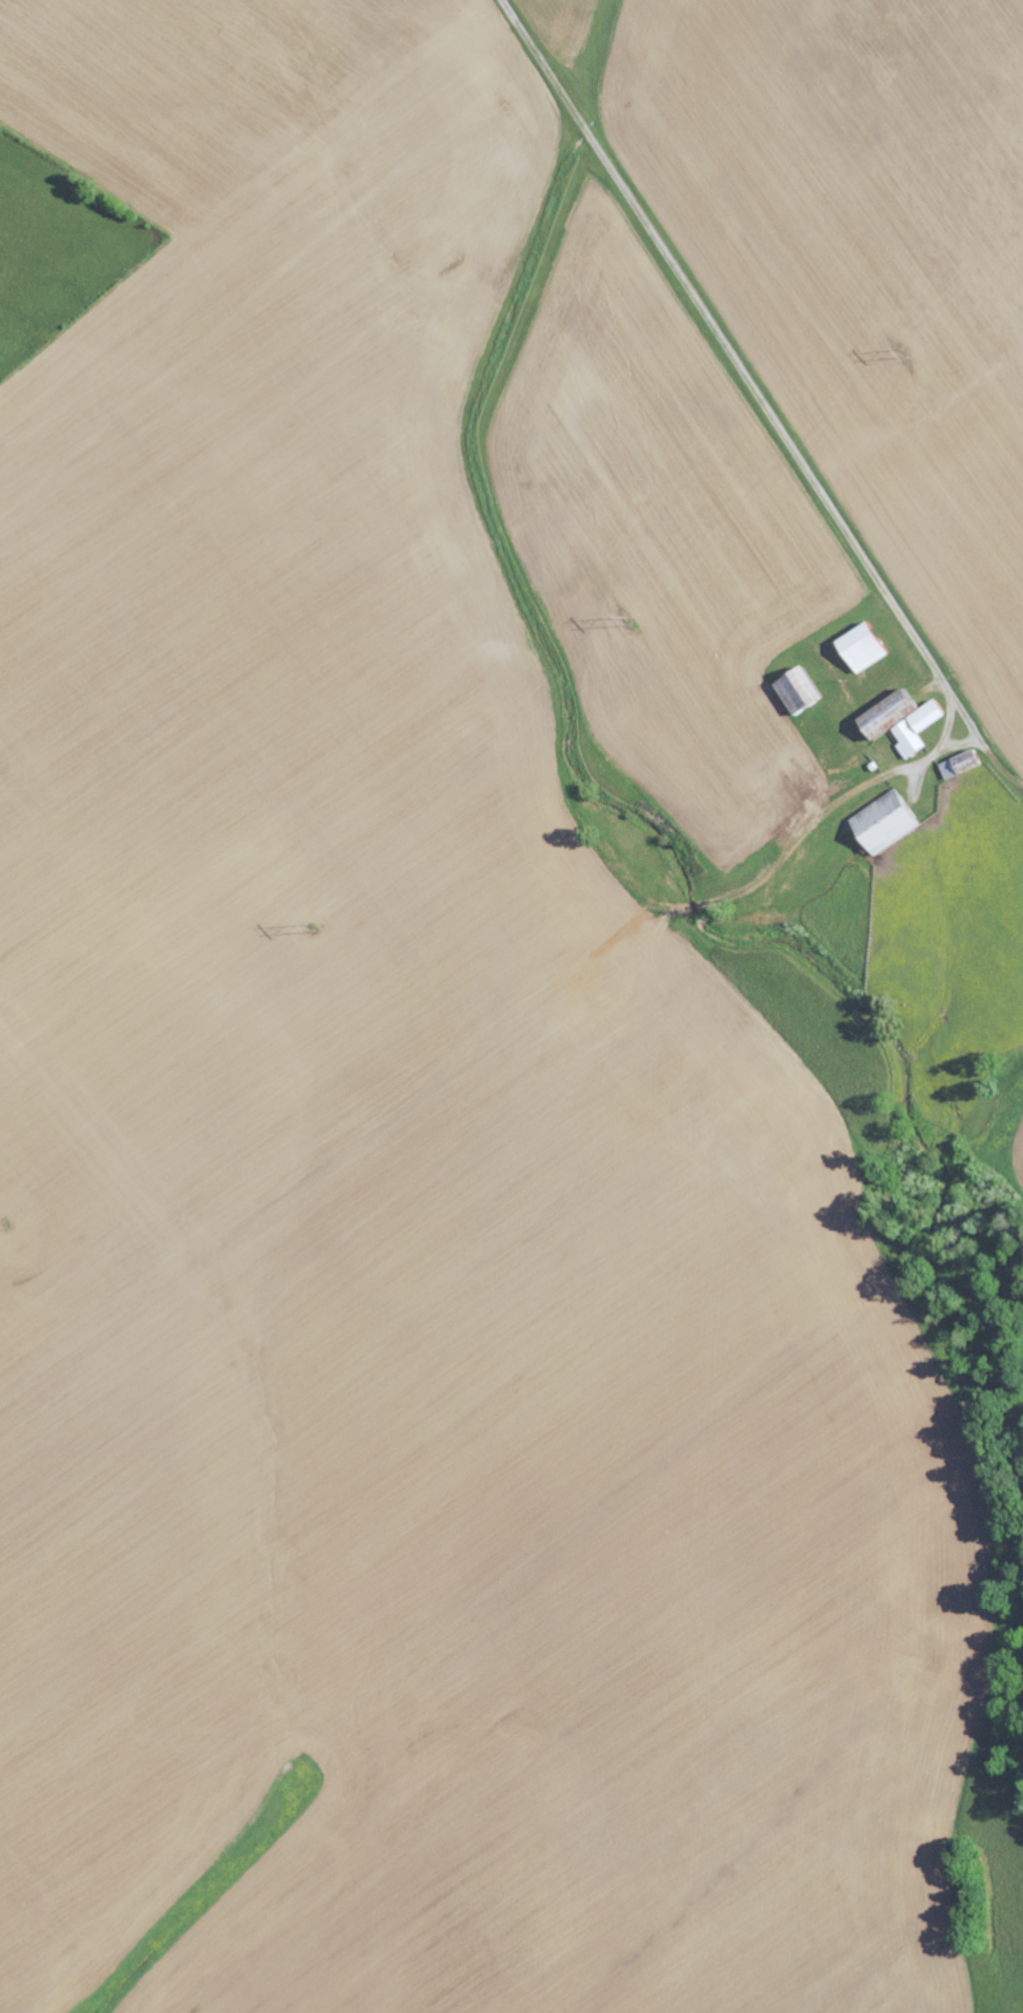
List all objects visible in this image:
road: (725, 347)
power tower: (899, 356)
power tower: (625, 618)
building: (861, 647)
building: (796, 690)
building: (900, 721)
building: (958, 763)
building: (883, 821)
power tower: (307, 928)
power tower: (5, 1224)

